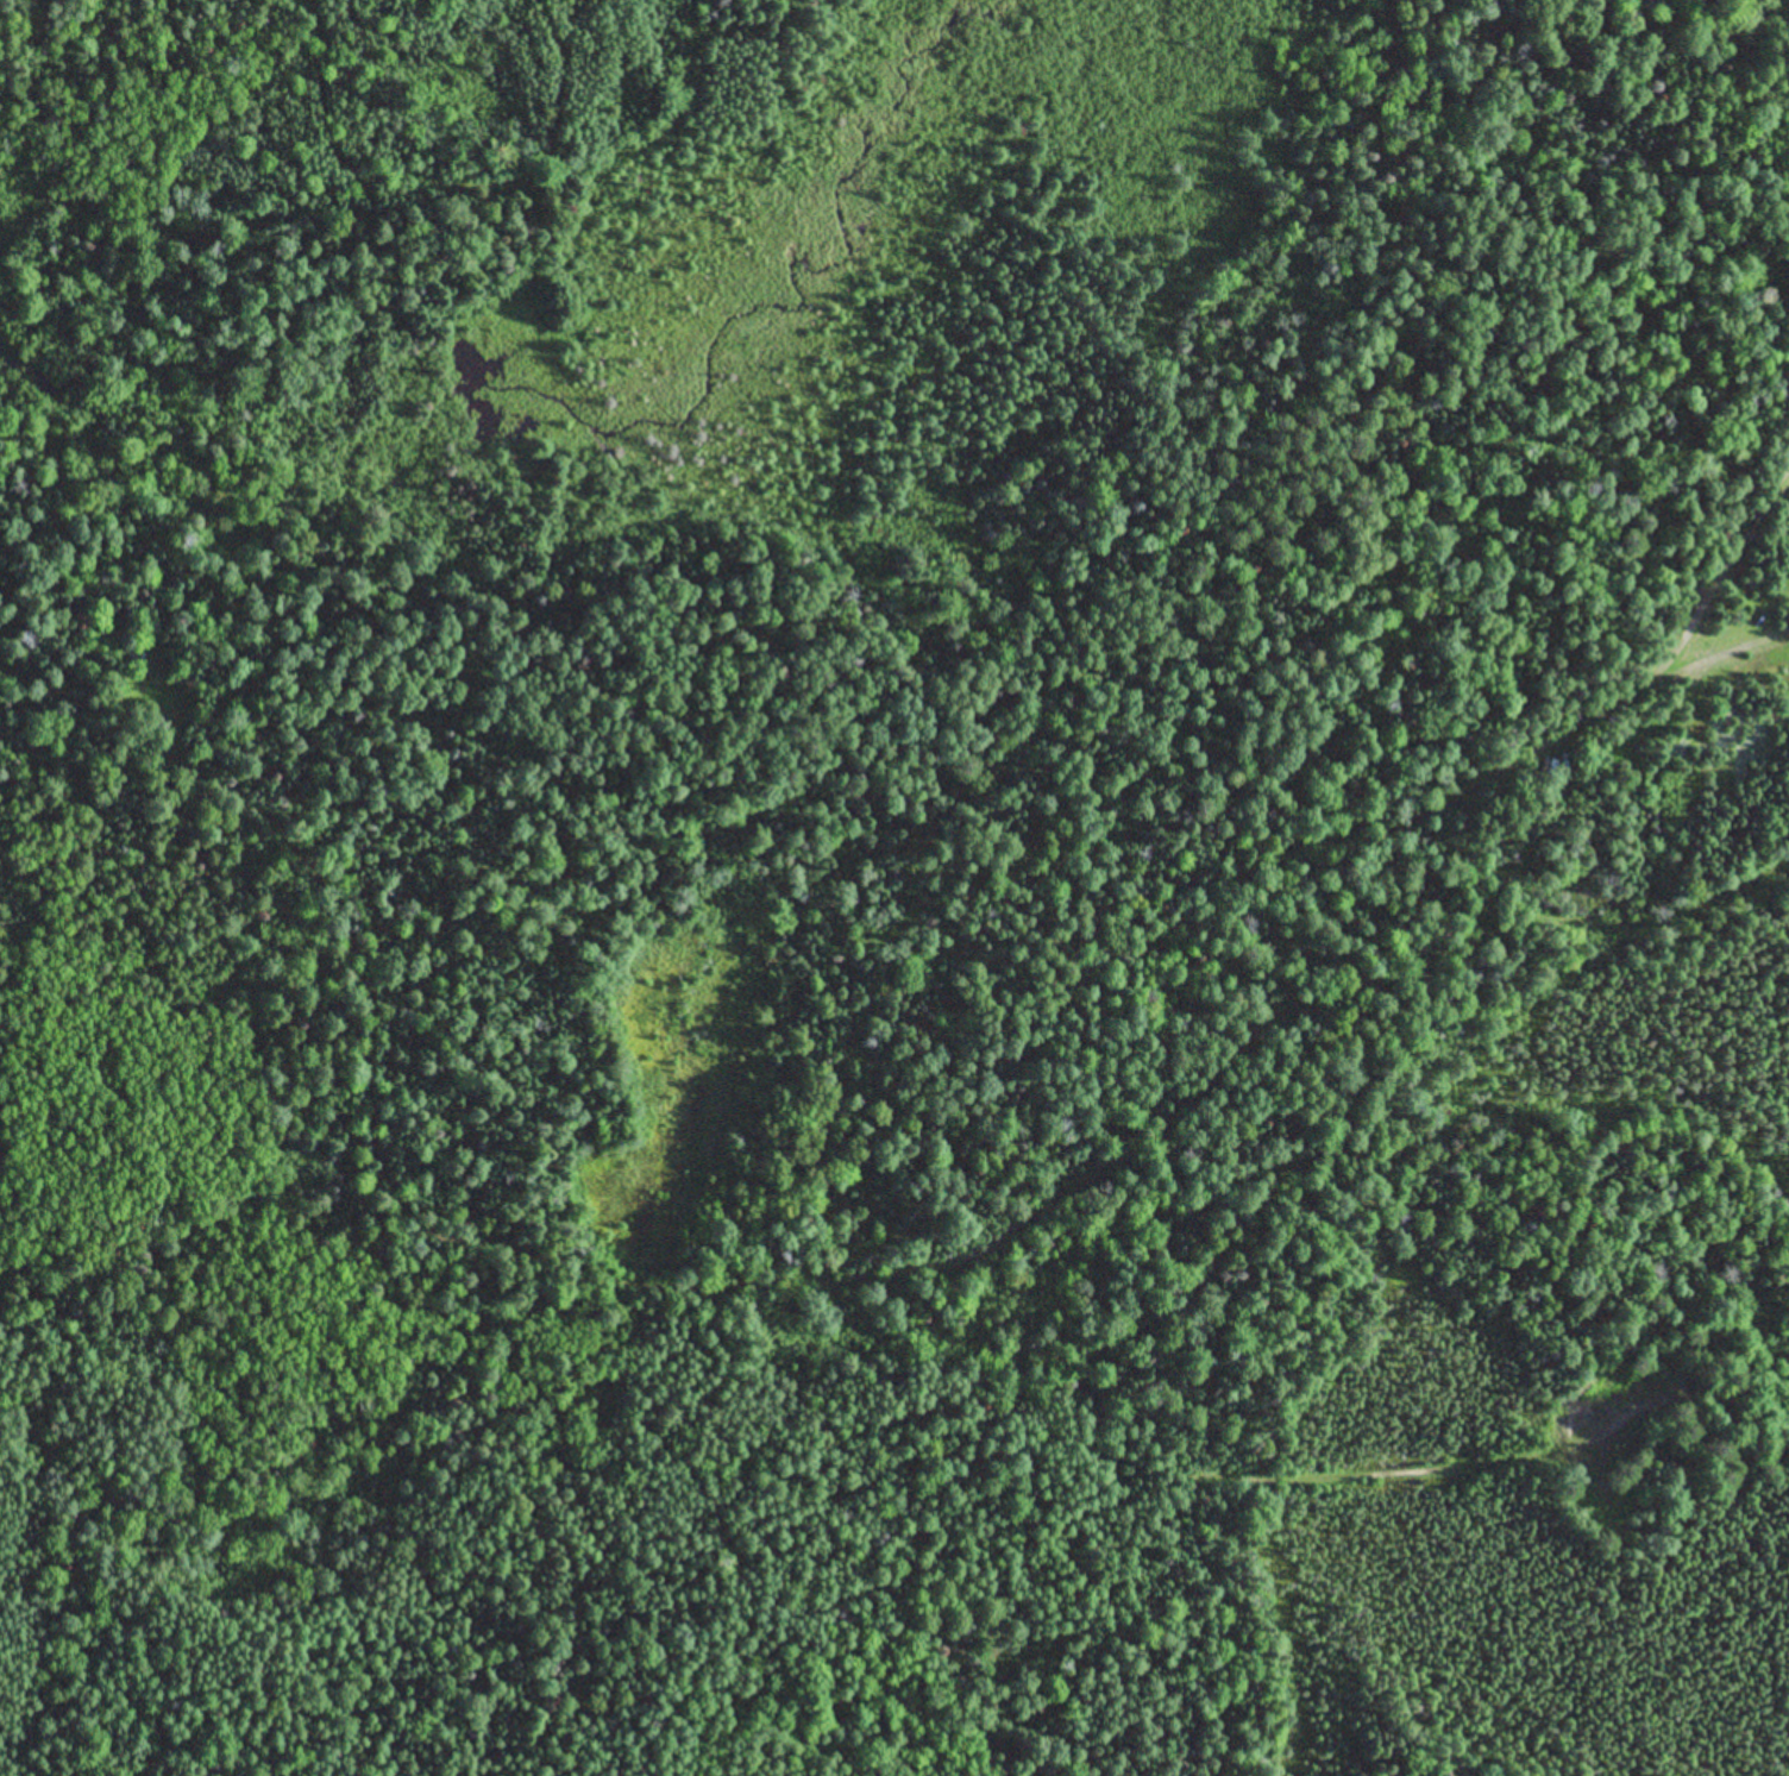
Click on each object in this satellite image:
road: (871, 1297)

